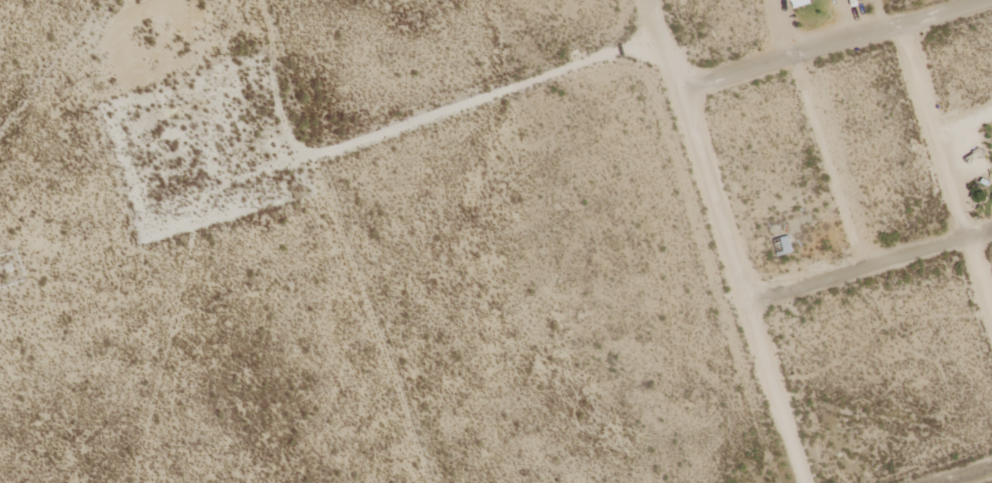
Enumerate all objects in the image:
building: (802, 3)
road: (837, 47)
road: (942, 156)
road: (724, 240)
building: (787, 245)
road: (867, 272)
road: (973, 477)

